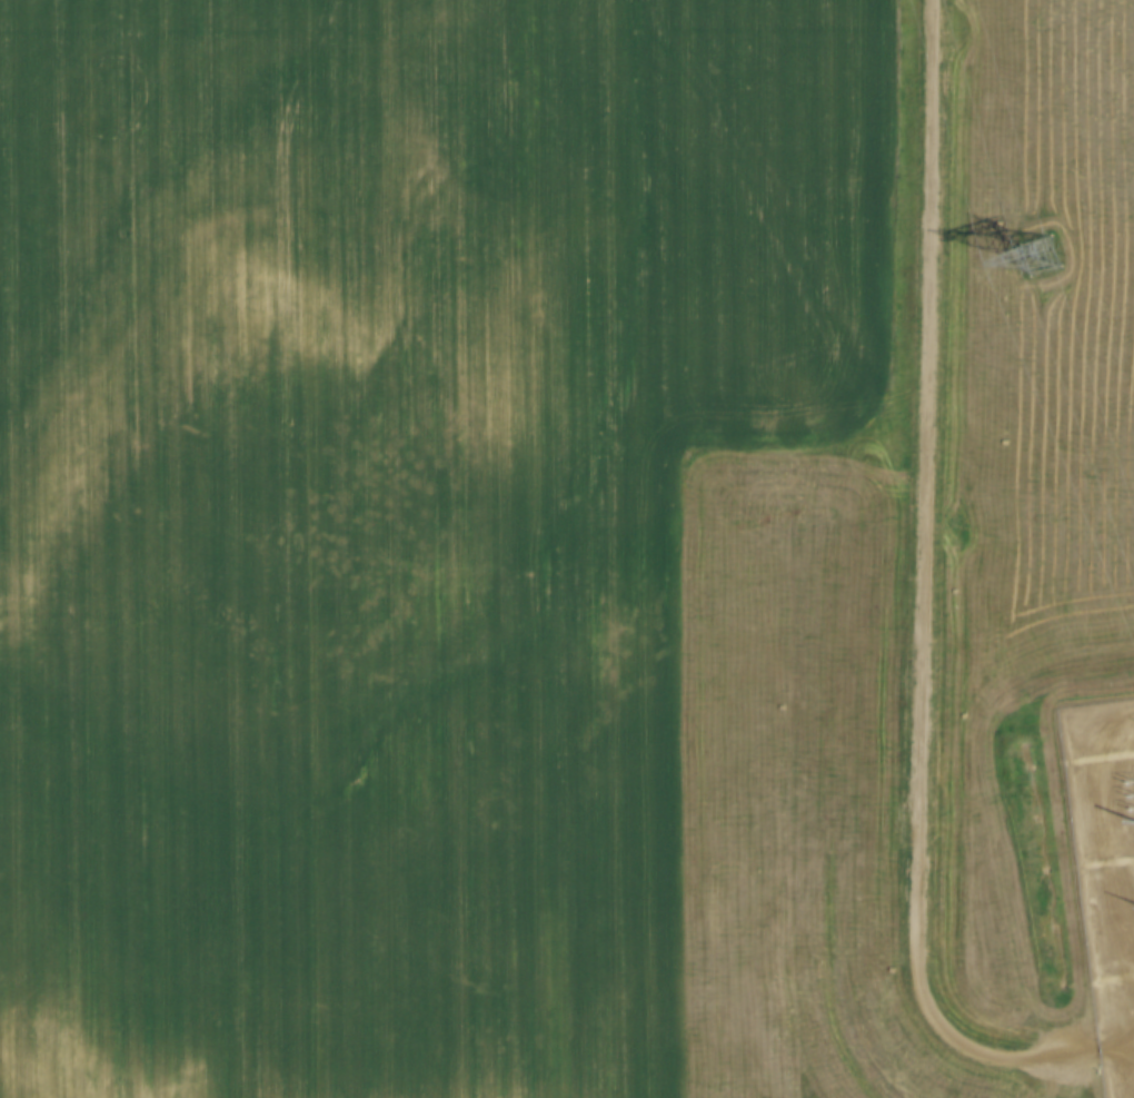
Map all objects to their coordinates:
power tower: (1038, 255)
road: (931, 616)
power substation: (1106, 867)
road: (1057, 1077)

